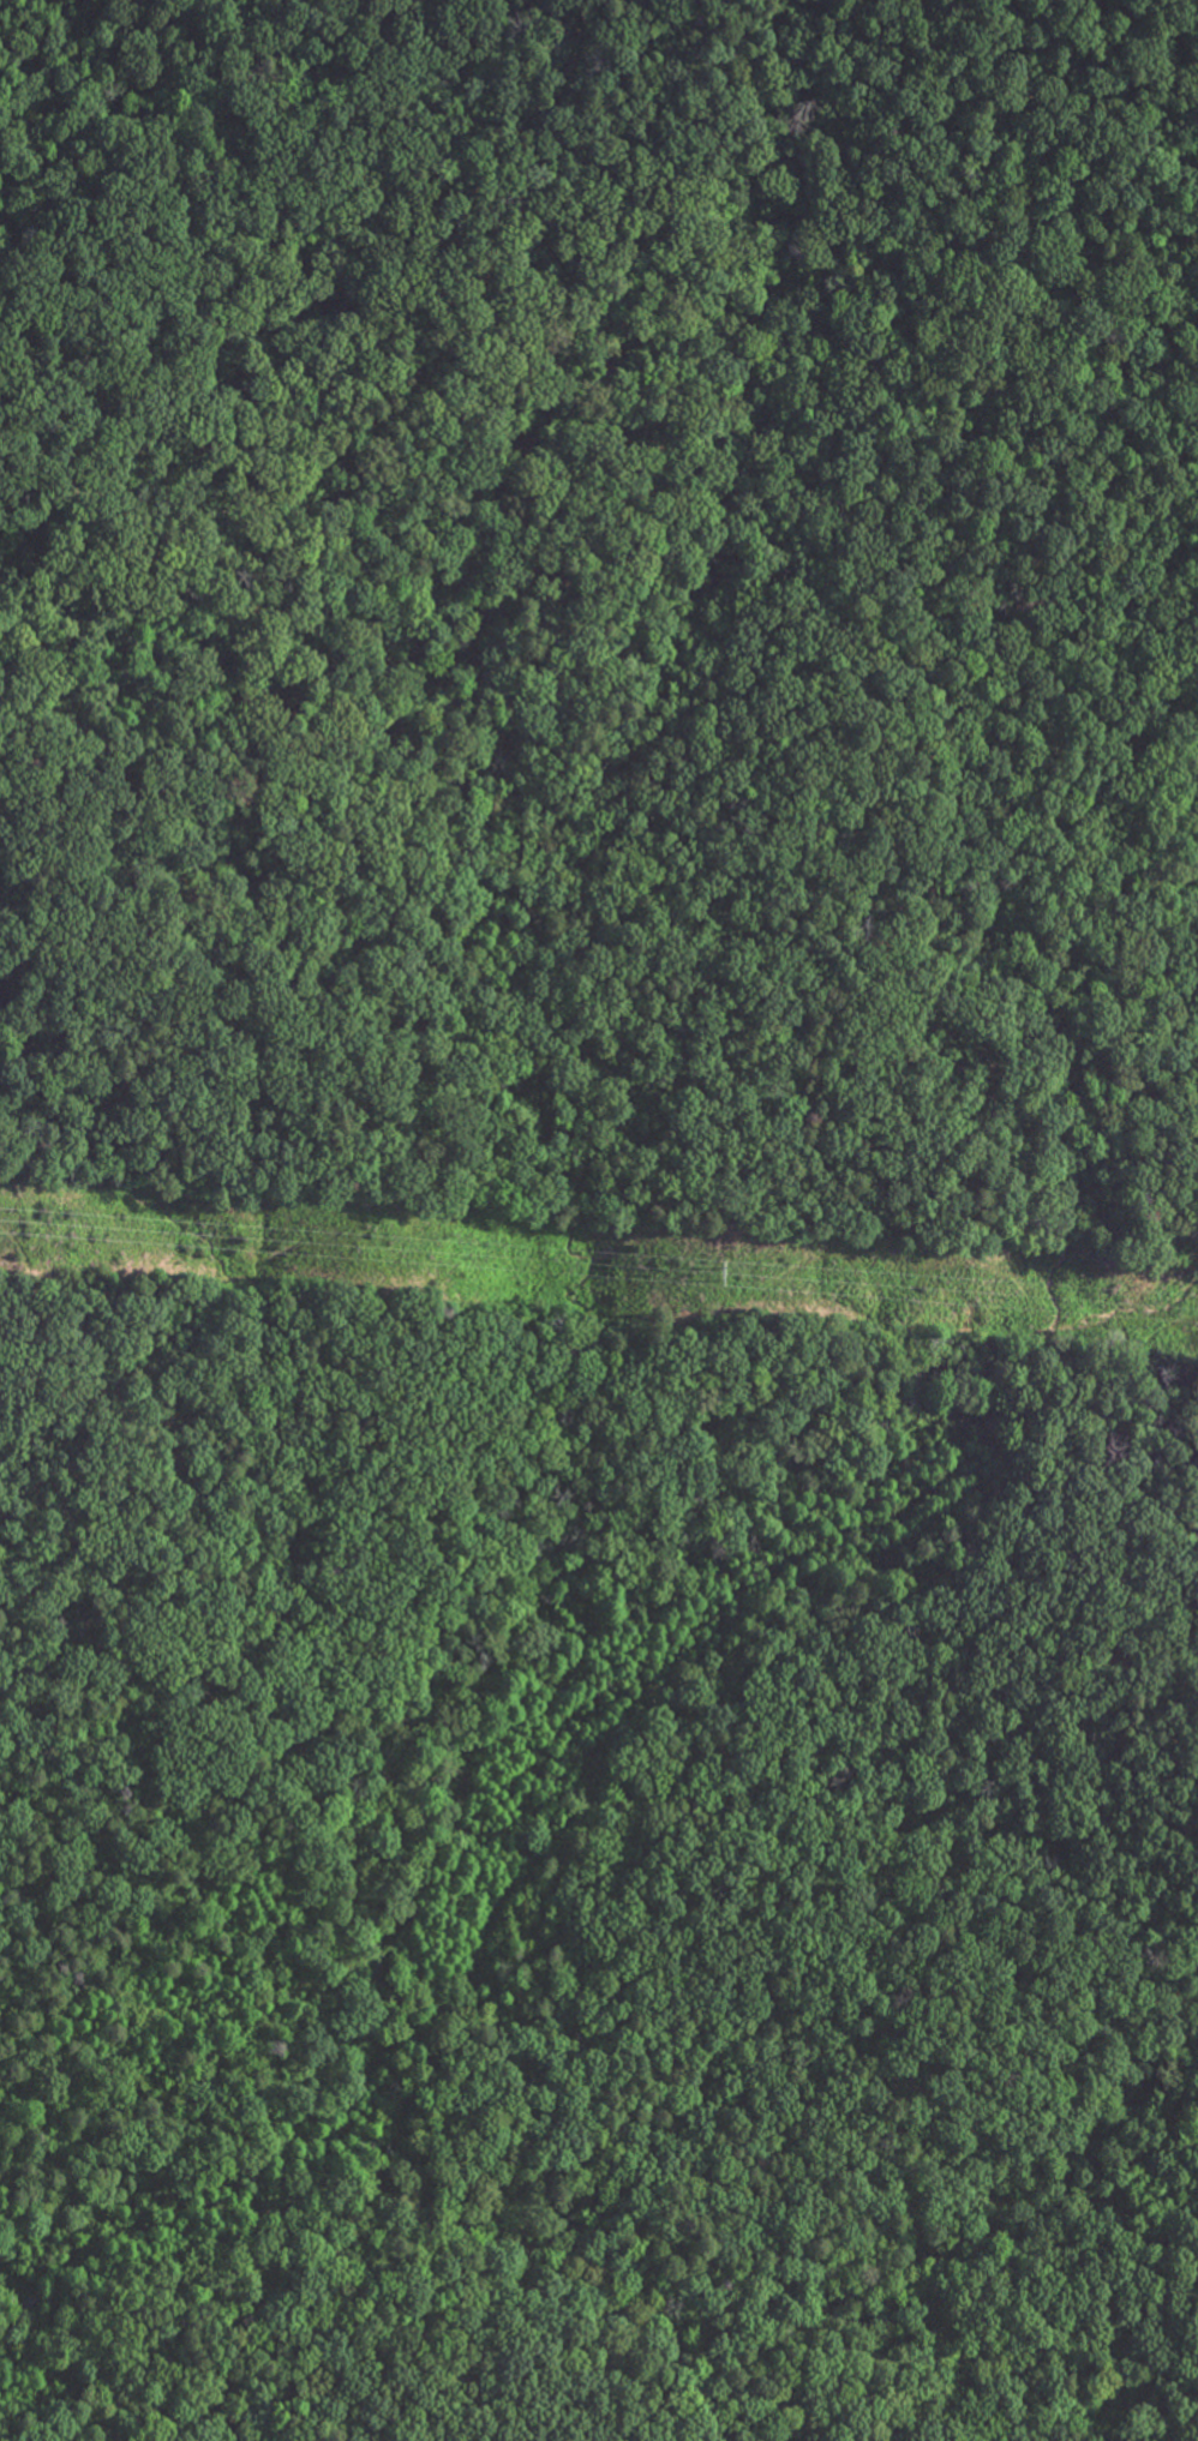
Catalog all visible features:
road: (307, 137)
power tower: (718, 1278)
road: (450, 1967)

